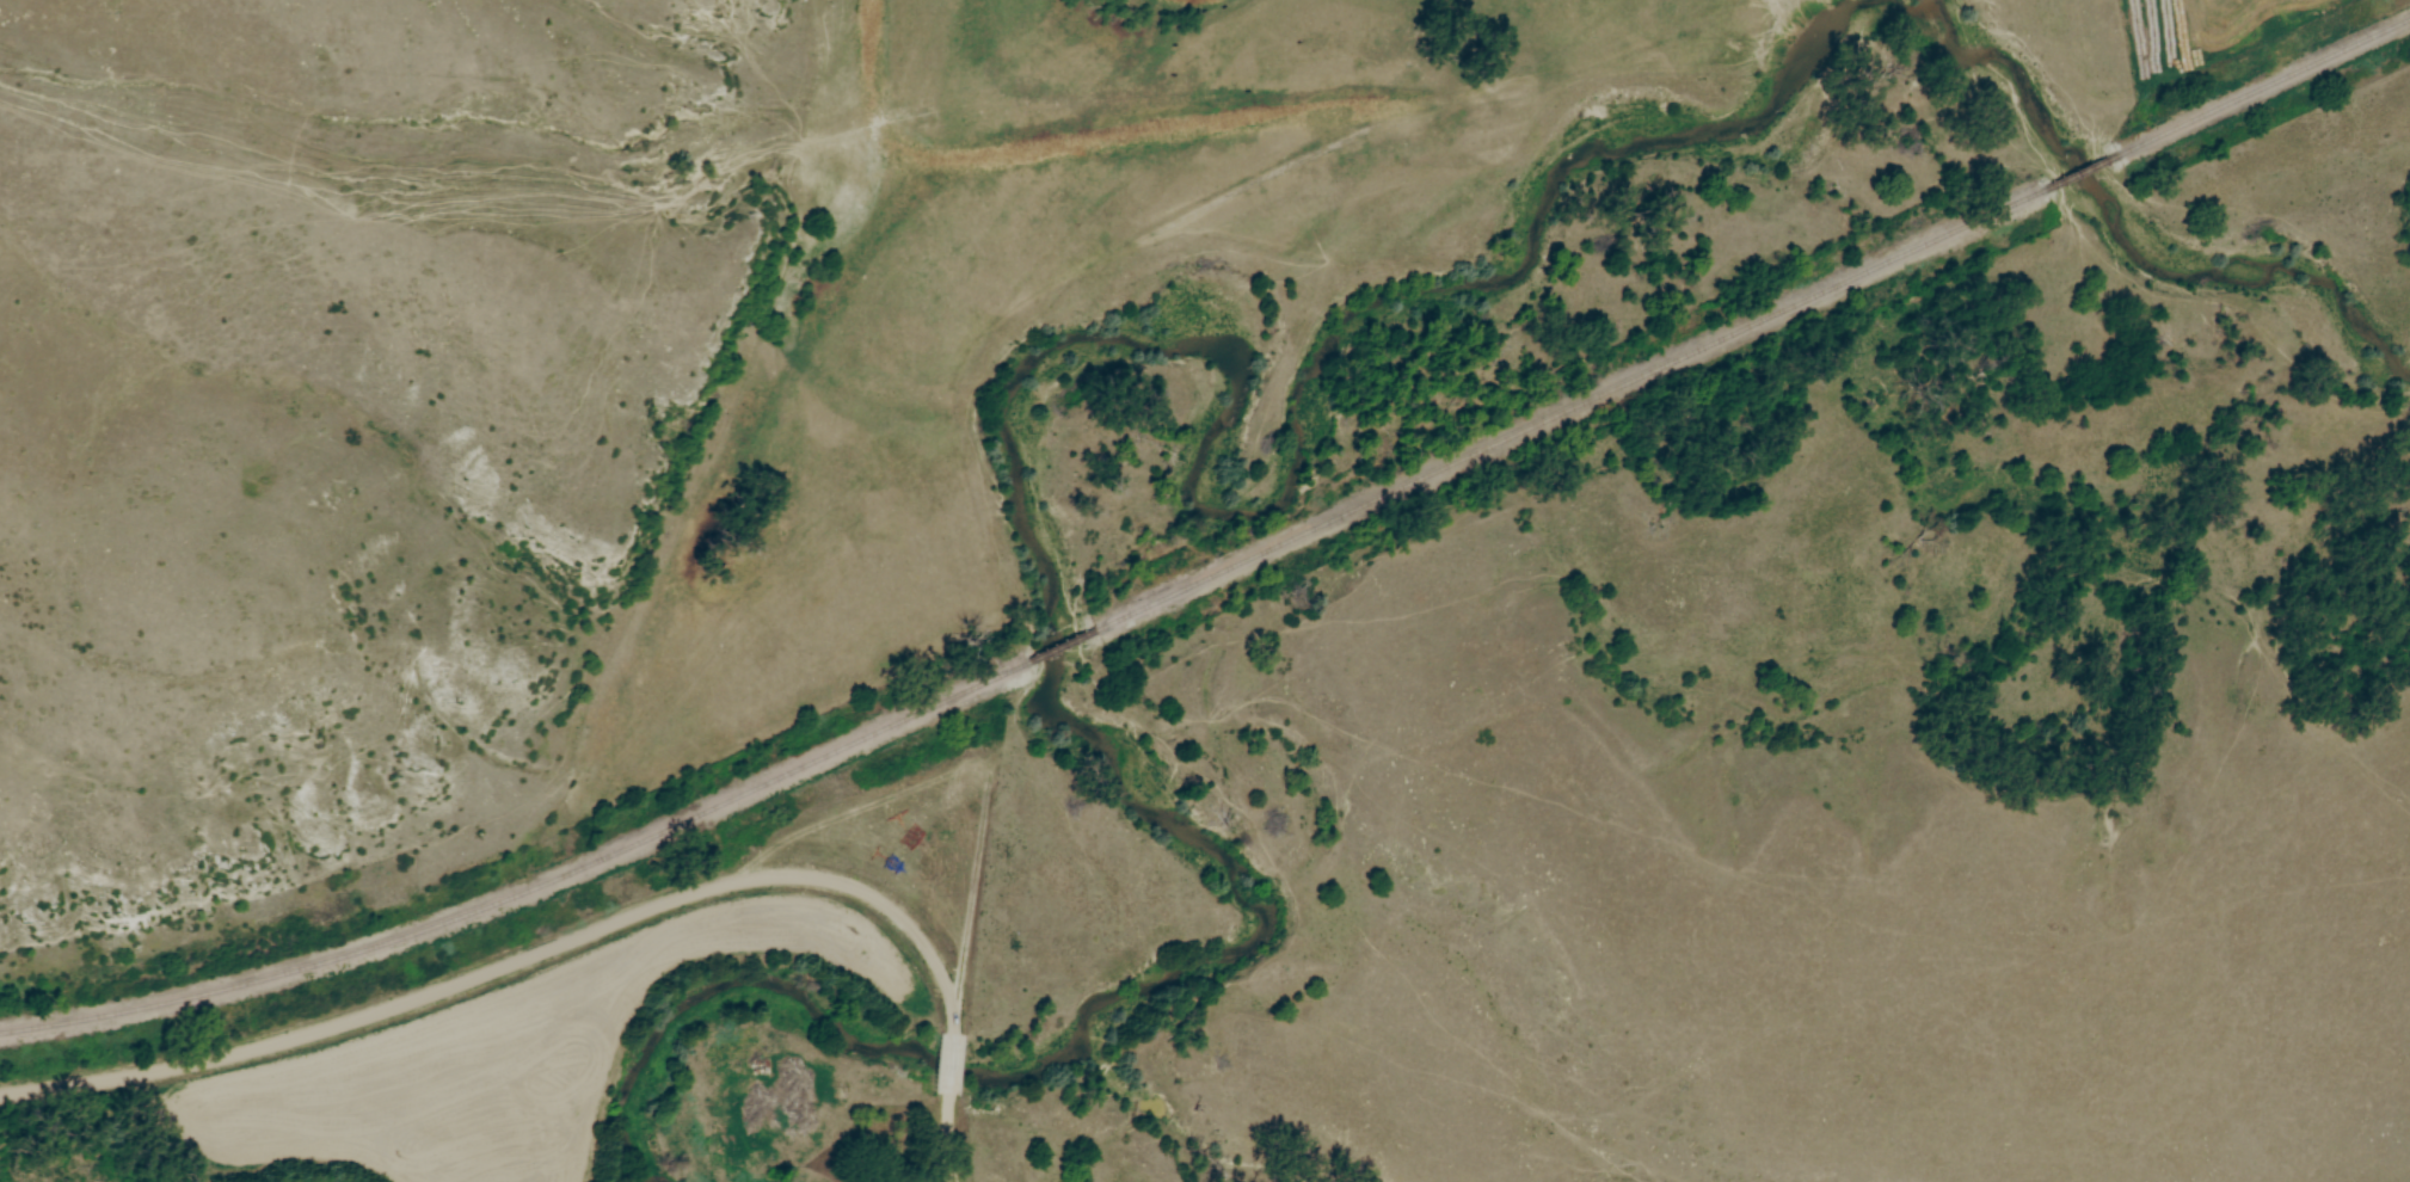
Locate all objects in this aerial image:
railway: (2260, 87)
railway: (2078, 172)
railway: (1564, 414)
railway: (1052, 646)
railway: (527, 889)
road: (522, 959)
road: (945, 1069)
road: (945, 1140)

